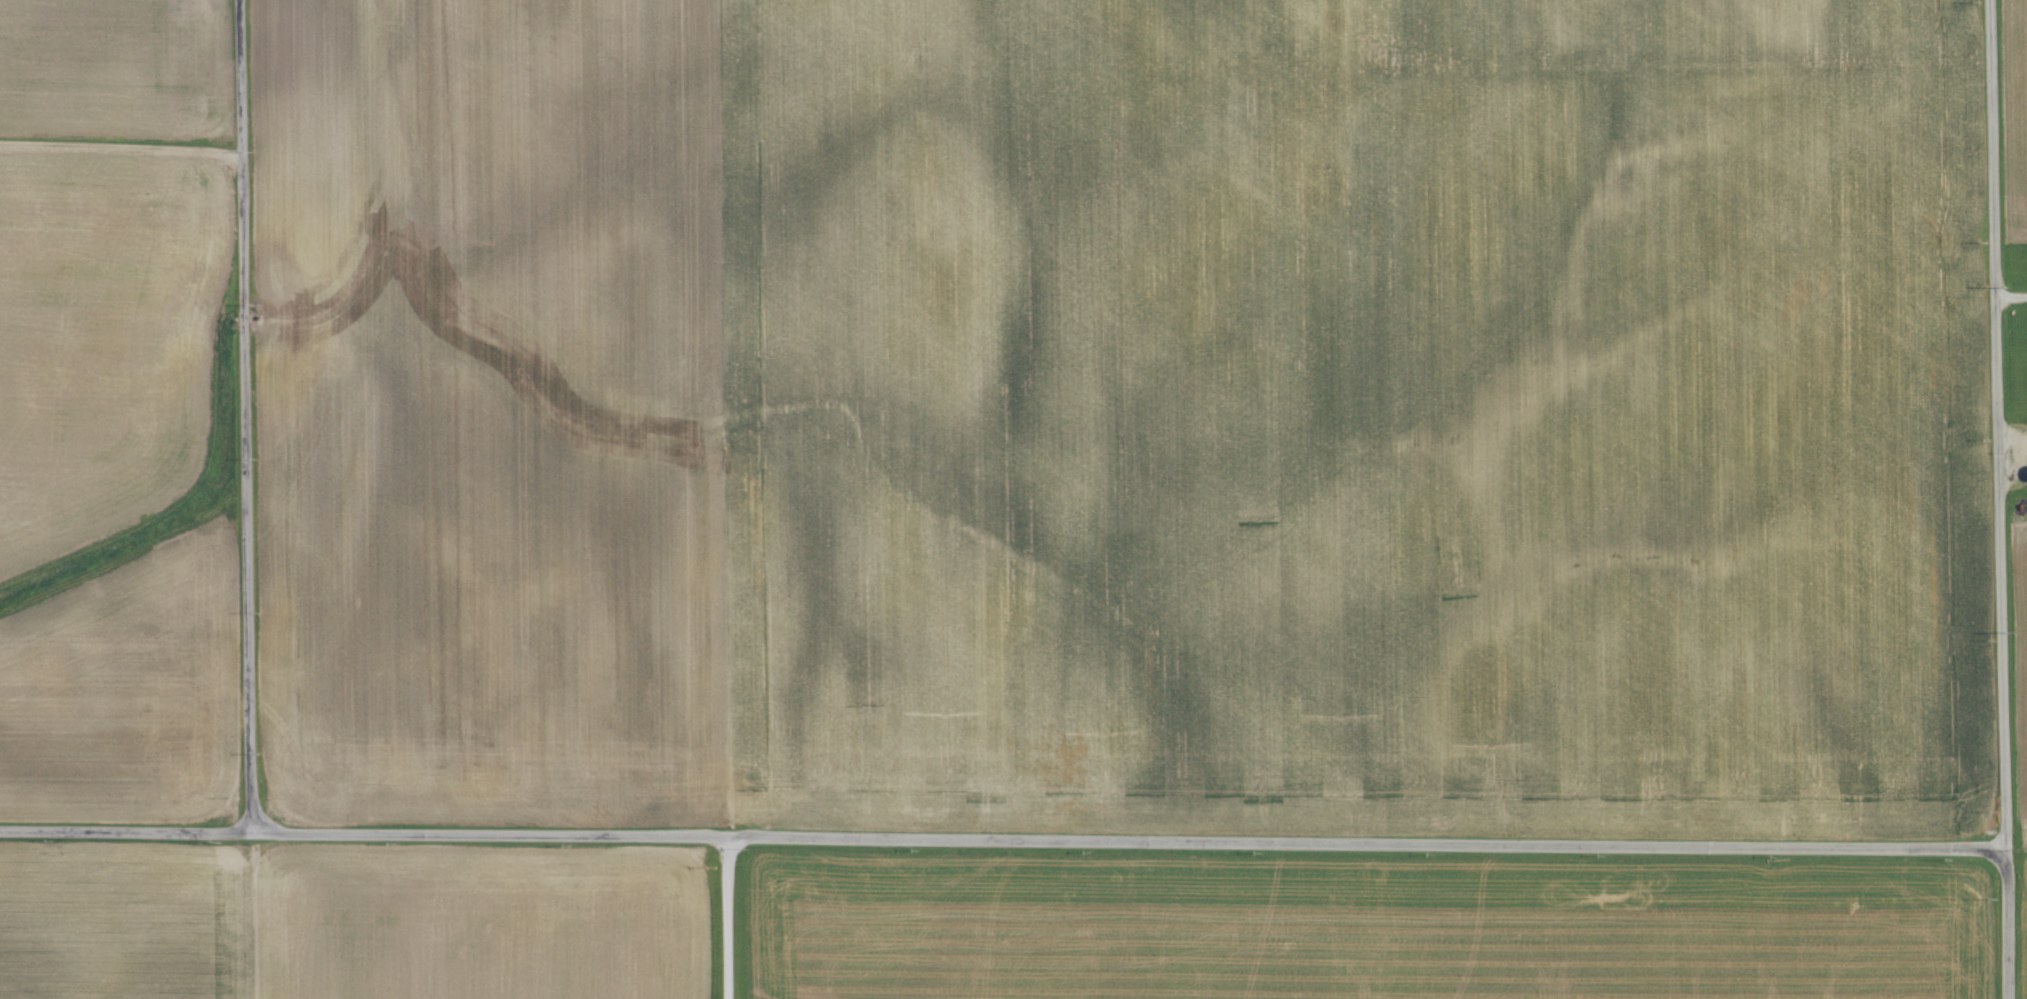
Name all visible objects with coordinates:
road: (121, 146)
road: (2006, 298)
road: (237, 417)
road: (1989, 499)
road: (997, 836)
road: (728, 916)

